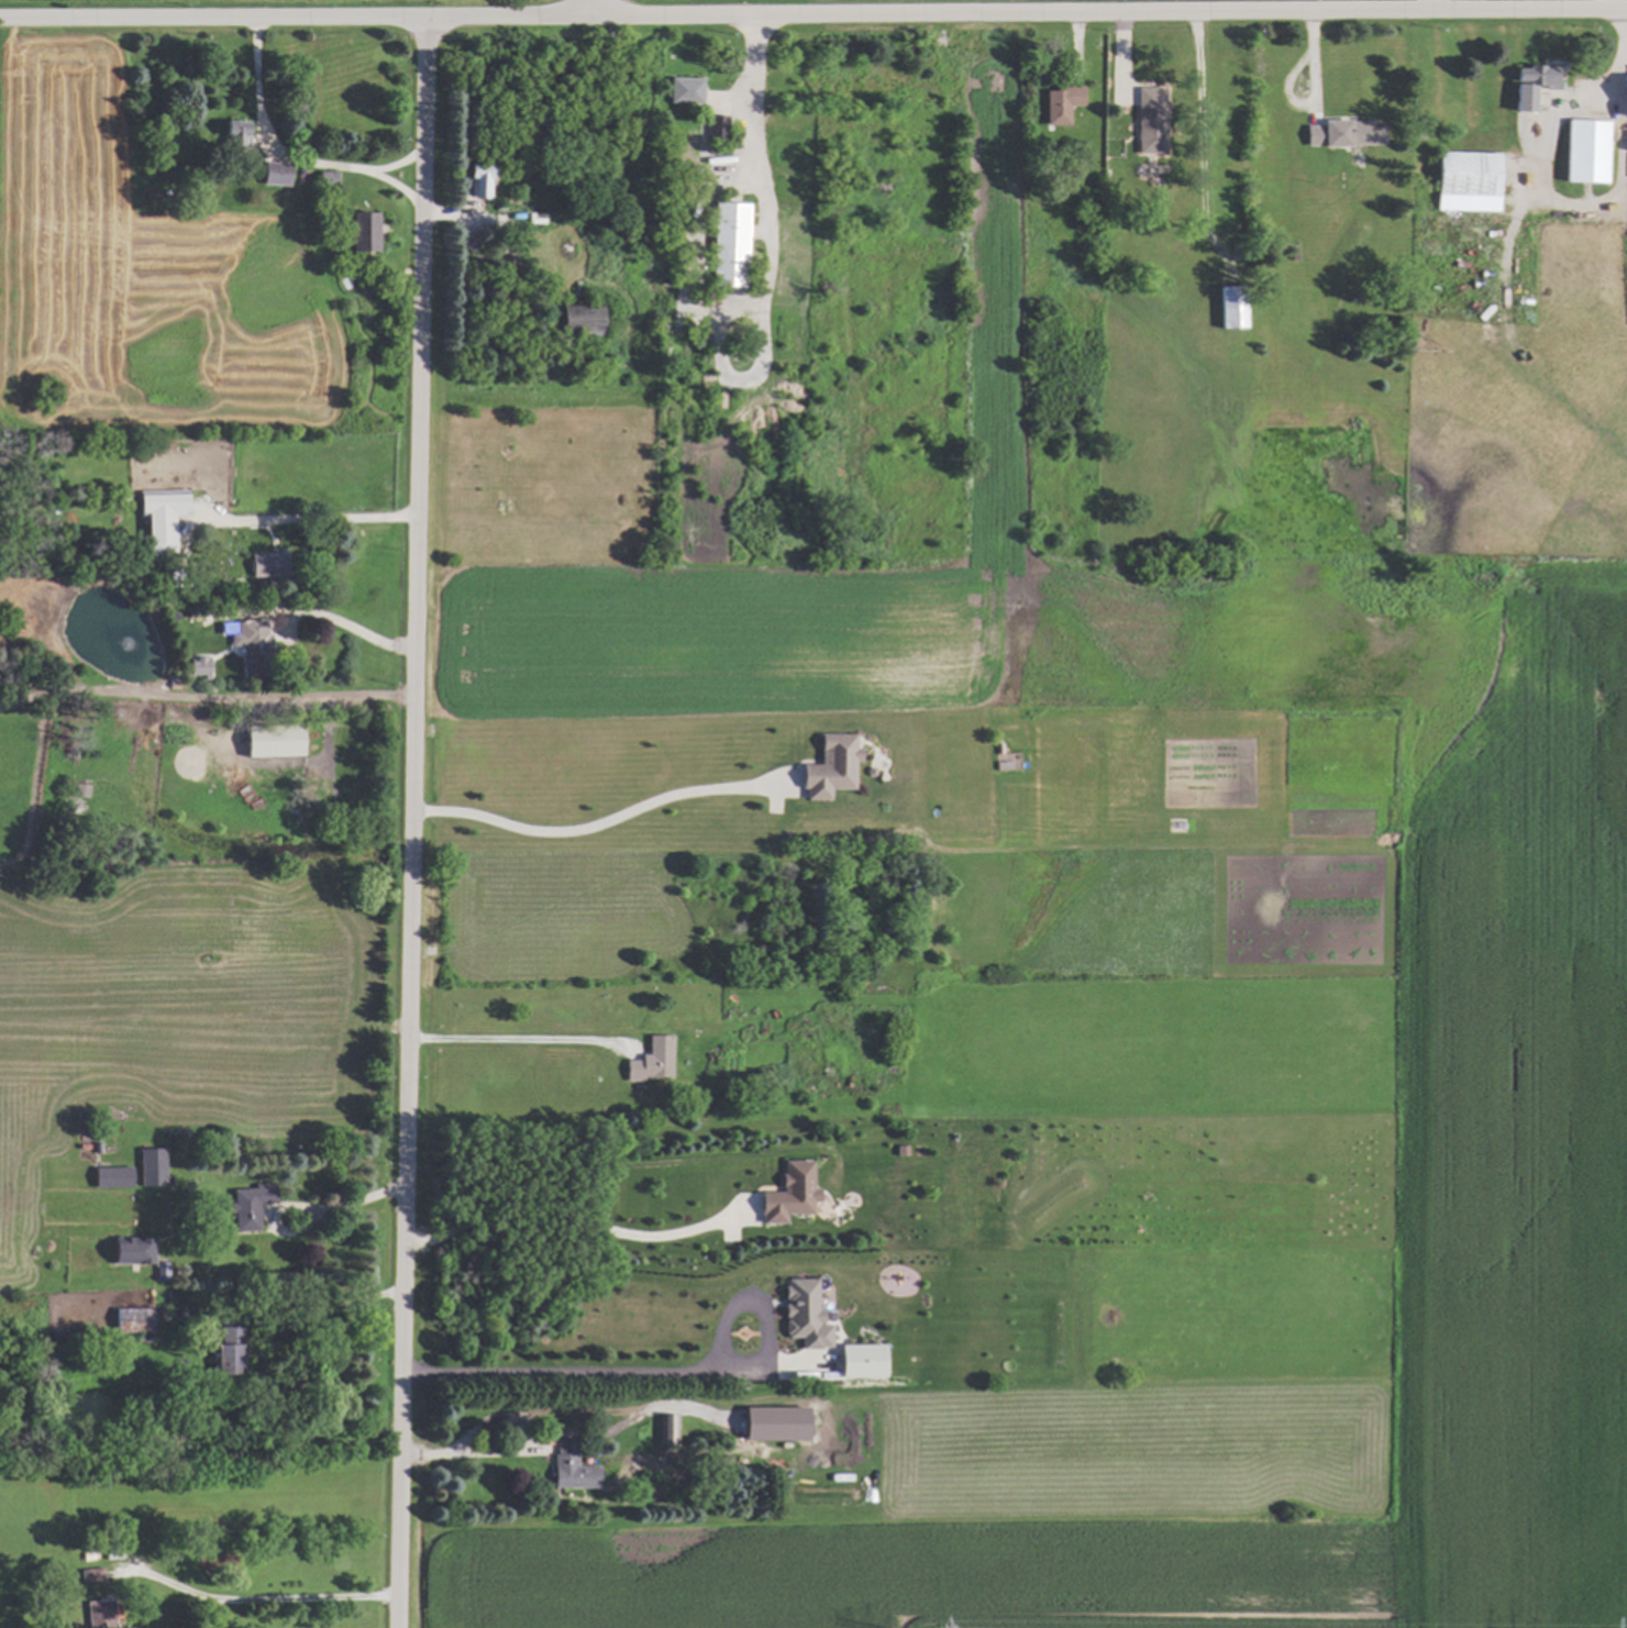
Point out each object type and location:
crop: (706, 1)
road: (594, 10)
road: (812, 18)
road: (1620, 63)
building: (1589, 66)
building: (1536, 73)
building: (686, 80)
building: (1626, 89)
building: (1060, 102)
building: (1150, 119)
building: (715, 126)
building: (232, 133)
building: (1343, 133)
road: (1200, 135)
building: (1626, 135)
building: (1585, 151)
road: (284, 159)
building: (273, 173)
building: (324, 178)
building: (477, 178)
building: (1466, 180)
road: (398, 189)
road: (1553, 201)
road: (764, 203)
building: (358, 232)
building: (728, 244)
building: (1231, 306)
building: (575, 318)
building: (158, 519)
road: (317, 523)
road: (356, 632)
building: (195, 666)
road: (206, 700)
building: (269, 741)
building: (1007, 761)
building: (828, 766)
road: (599, 822)
road: (412, 824)
road: (507, 1041)
crop: (1515, 1057)
building: (651, 1059)
road: (275, 1064)
building: (150, 1165)
building: (110, 1176)
building: (787, 1192)
building: (248, 1204)
road: (303, 1210)
road: (560, 1214)
building: (131, 1250)
building: (801, 1314)
road: (291, 1317)
building: (132, 1320)
building: (226, 1350)
building: (857, 1359)
road: (657, 1374)
building: (666, 1428)
road: (473, 1454)
building: (571, 1472)
road: (261, 1601)
building: (99, 1614)

